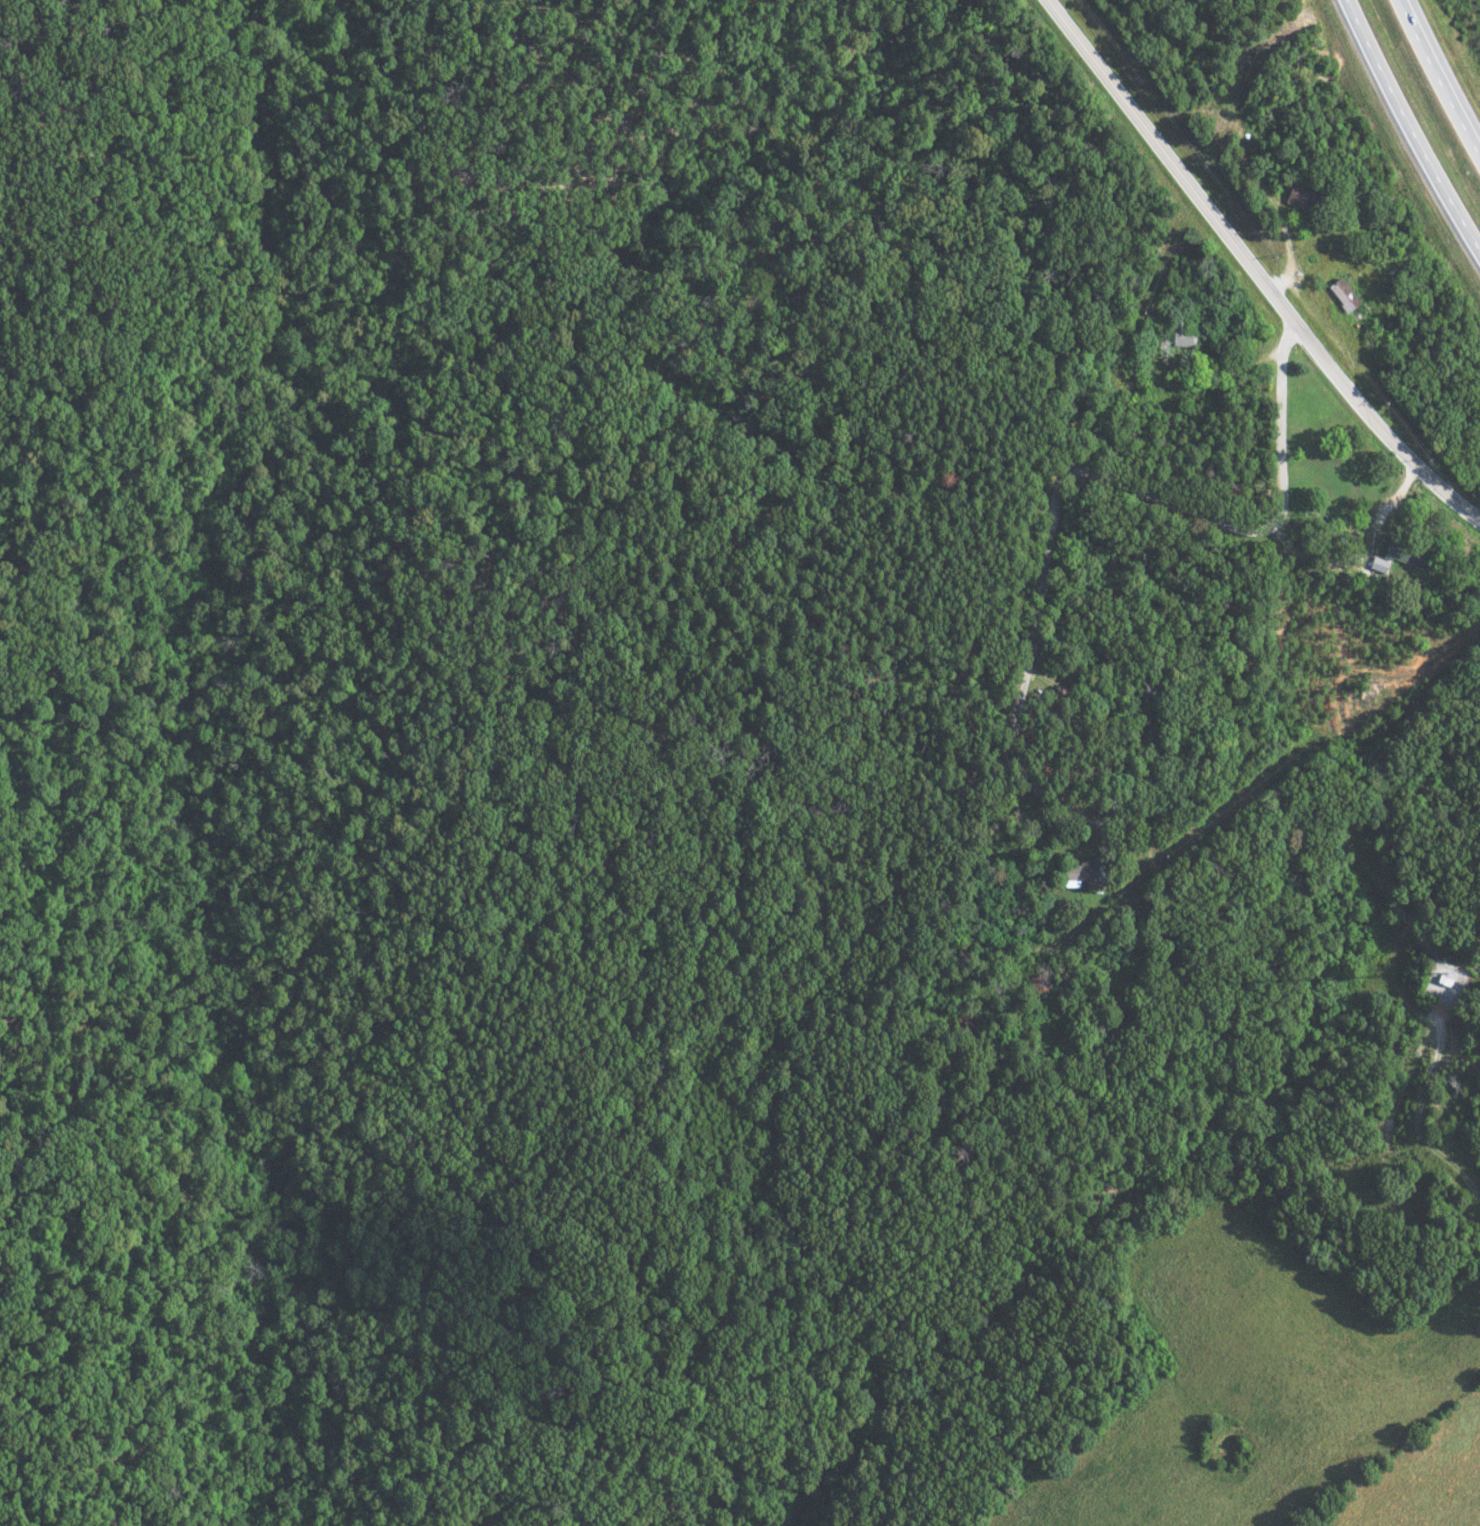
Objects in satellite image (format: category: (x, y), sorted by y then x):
road: (1438, 82)
road: (1408, 131)
road: (1254, 269)
building: (1339, 294)
building: (1181, 334)
road: (1132, 487)
building: (1379, 563)

